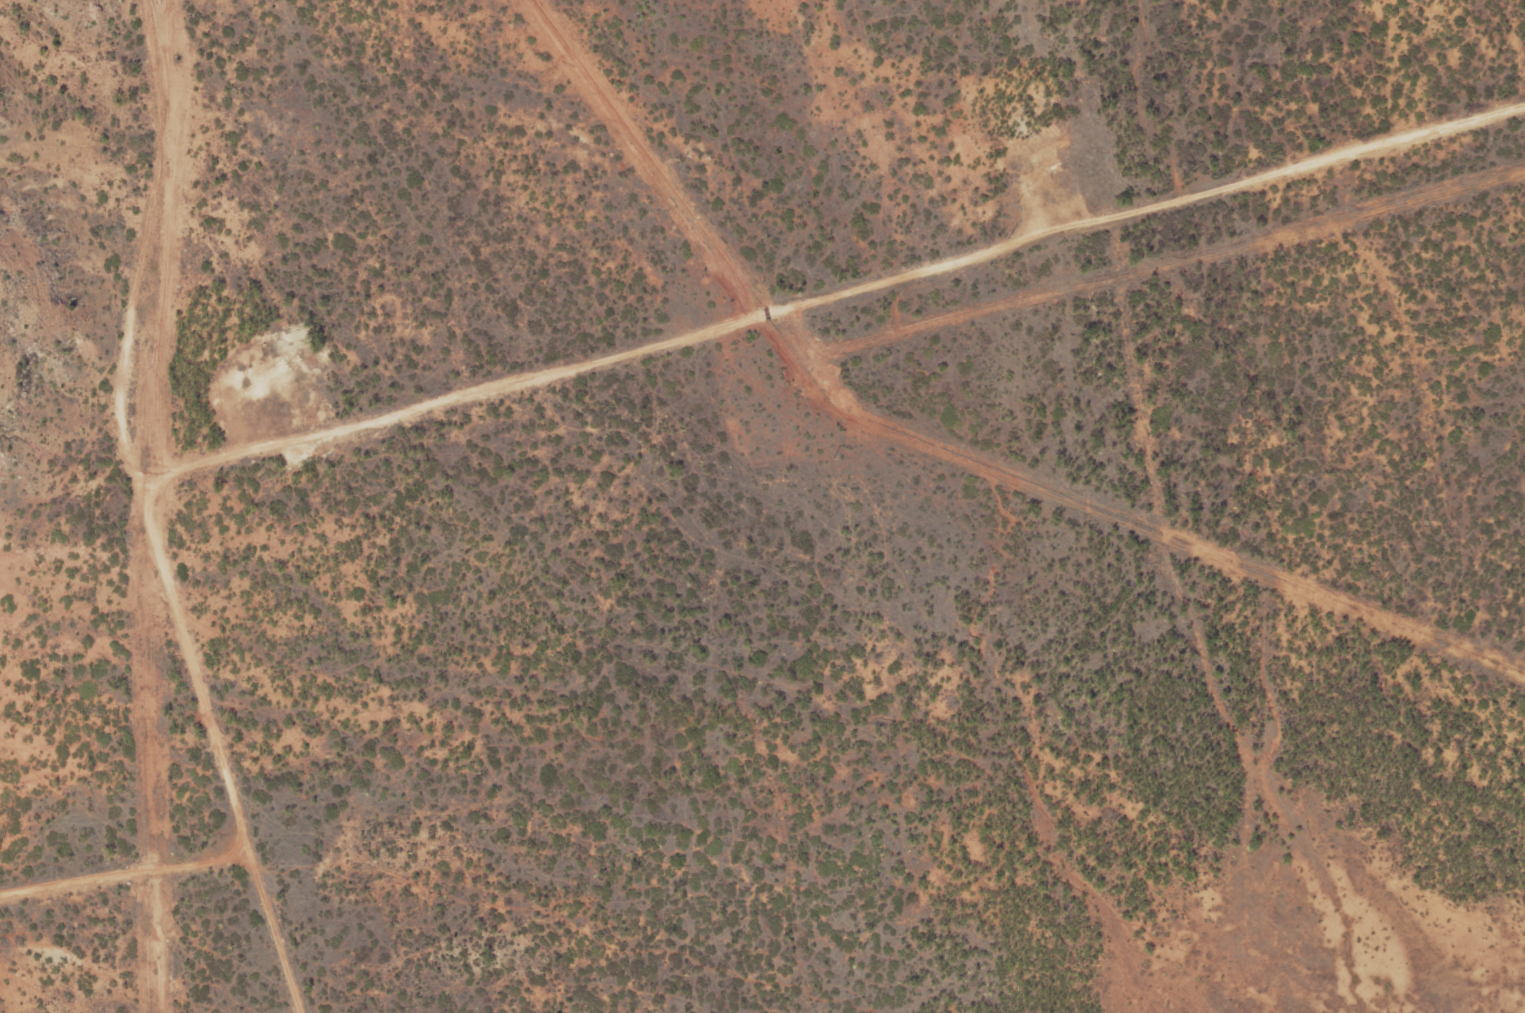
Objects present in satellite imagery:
road: (50, 10)
road: (835, 294)
road: (149, 432)
road: (126, 874)
road: (274, 932)

